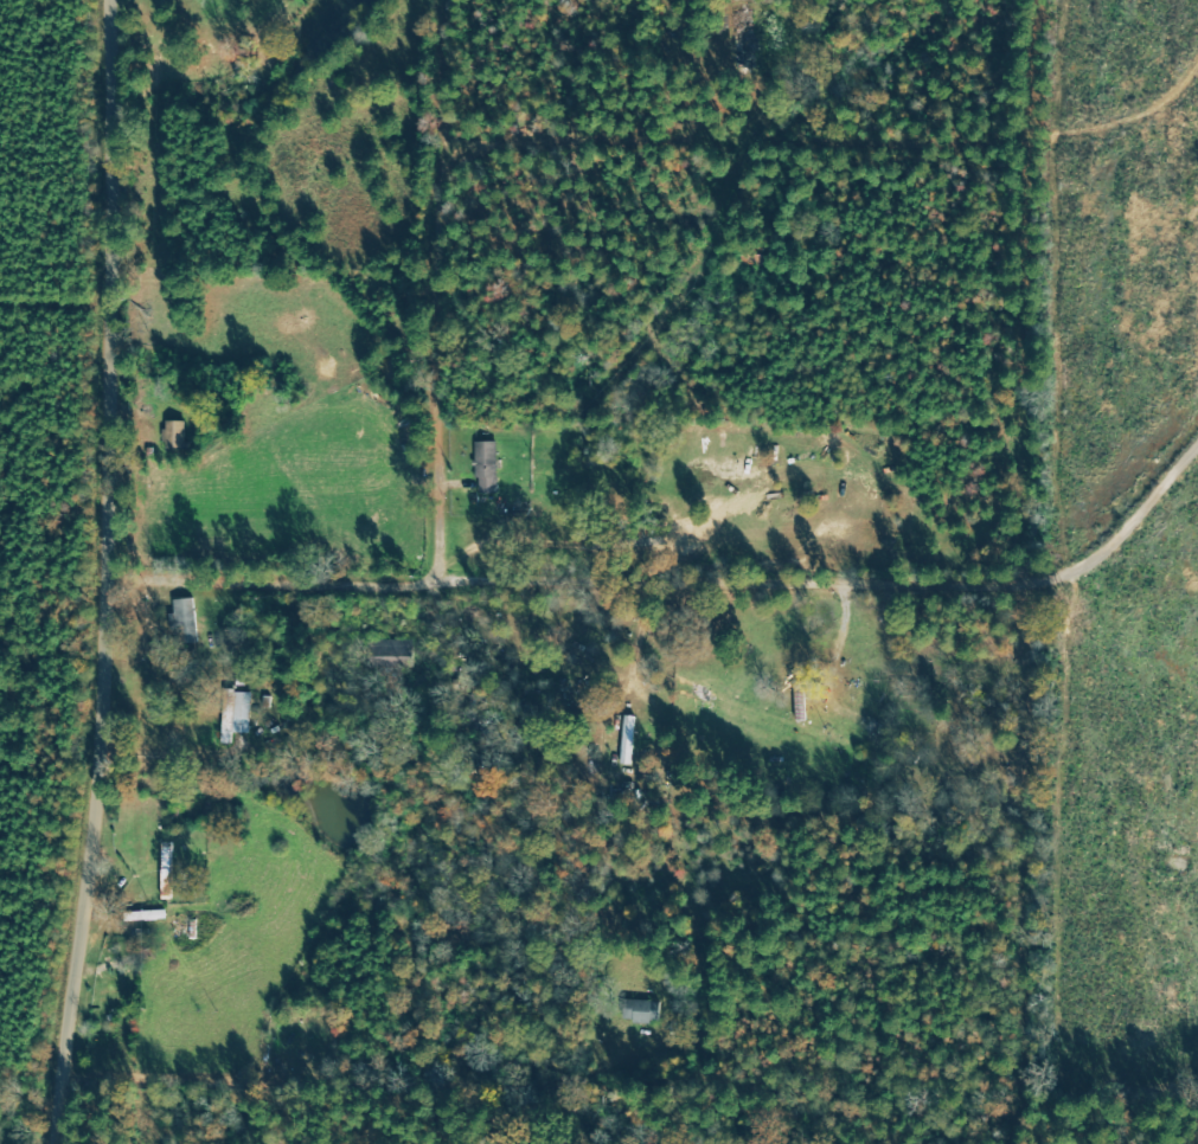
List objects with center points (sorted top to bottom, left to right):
building: (744, 39)
road: (434, 296)
building: (173, 435)
building: (486, 467)
road: (127, 572)
road: (286, 579)
building: (185, 617)
building: (242, 712)
building: (228, 722)
building: (641, 1011)

